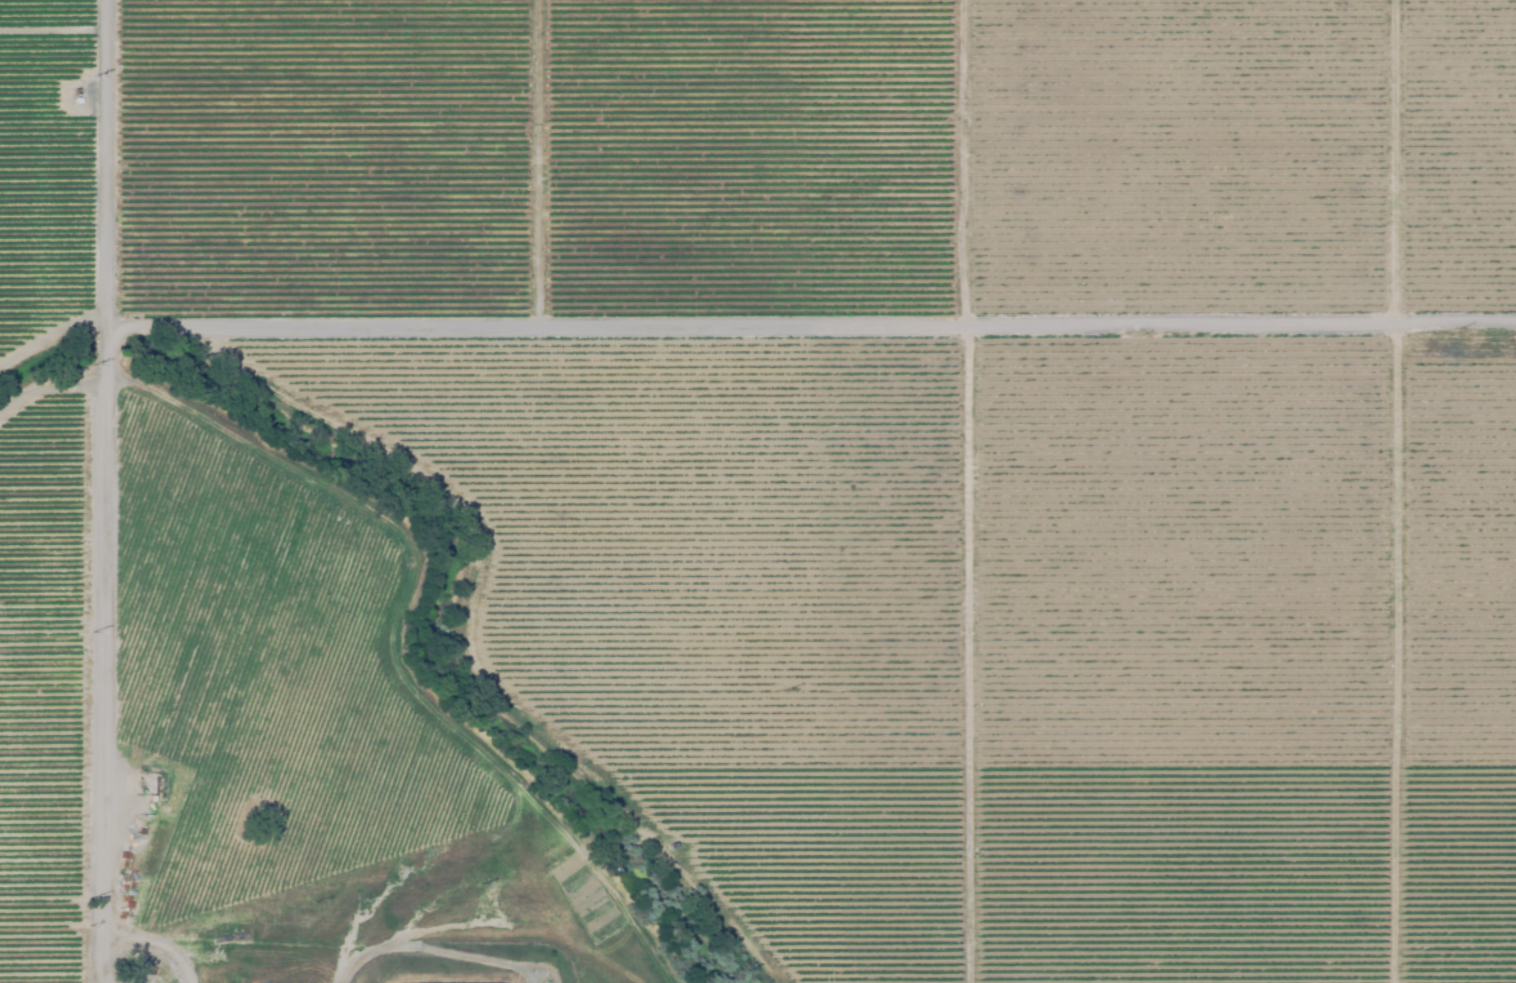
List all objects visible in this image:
building: (74, 101)
road: (812, 319)
road: (49, 389)
road: (107, 491)
road: (460, 639)
building: (605, 951)

